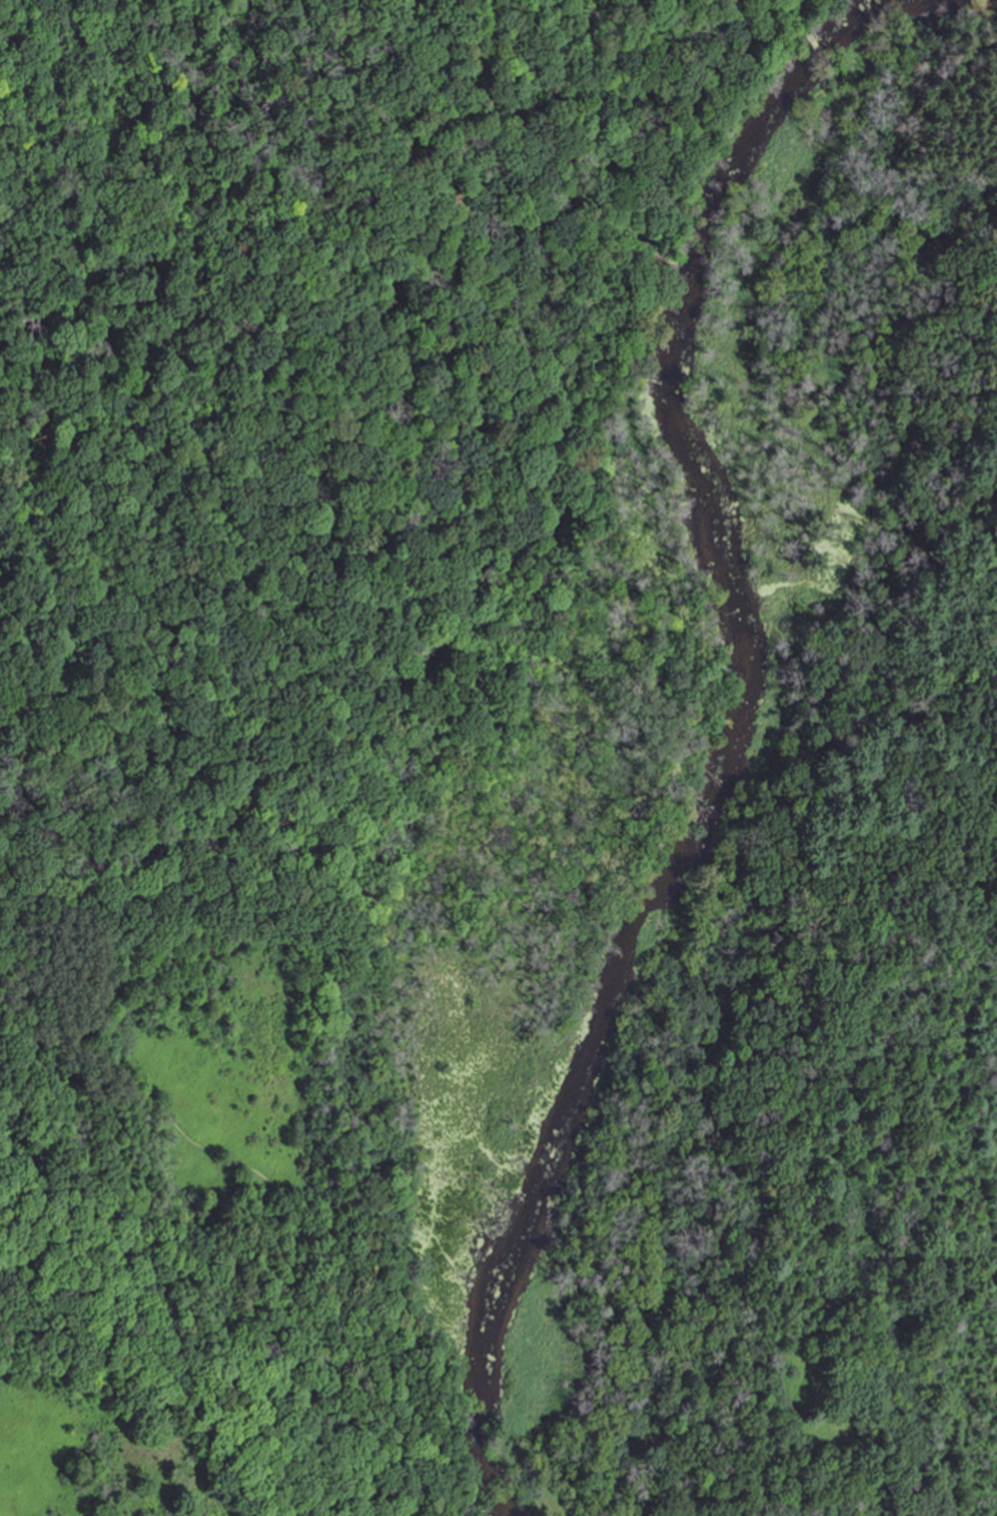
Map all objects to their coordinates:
road: (865, 342)
river: (746, 699)
road: (298, 1201)

